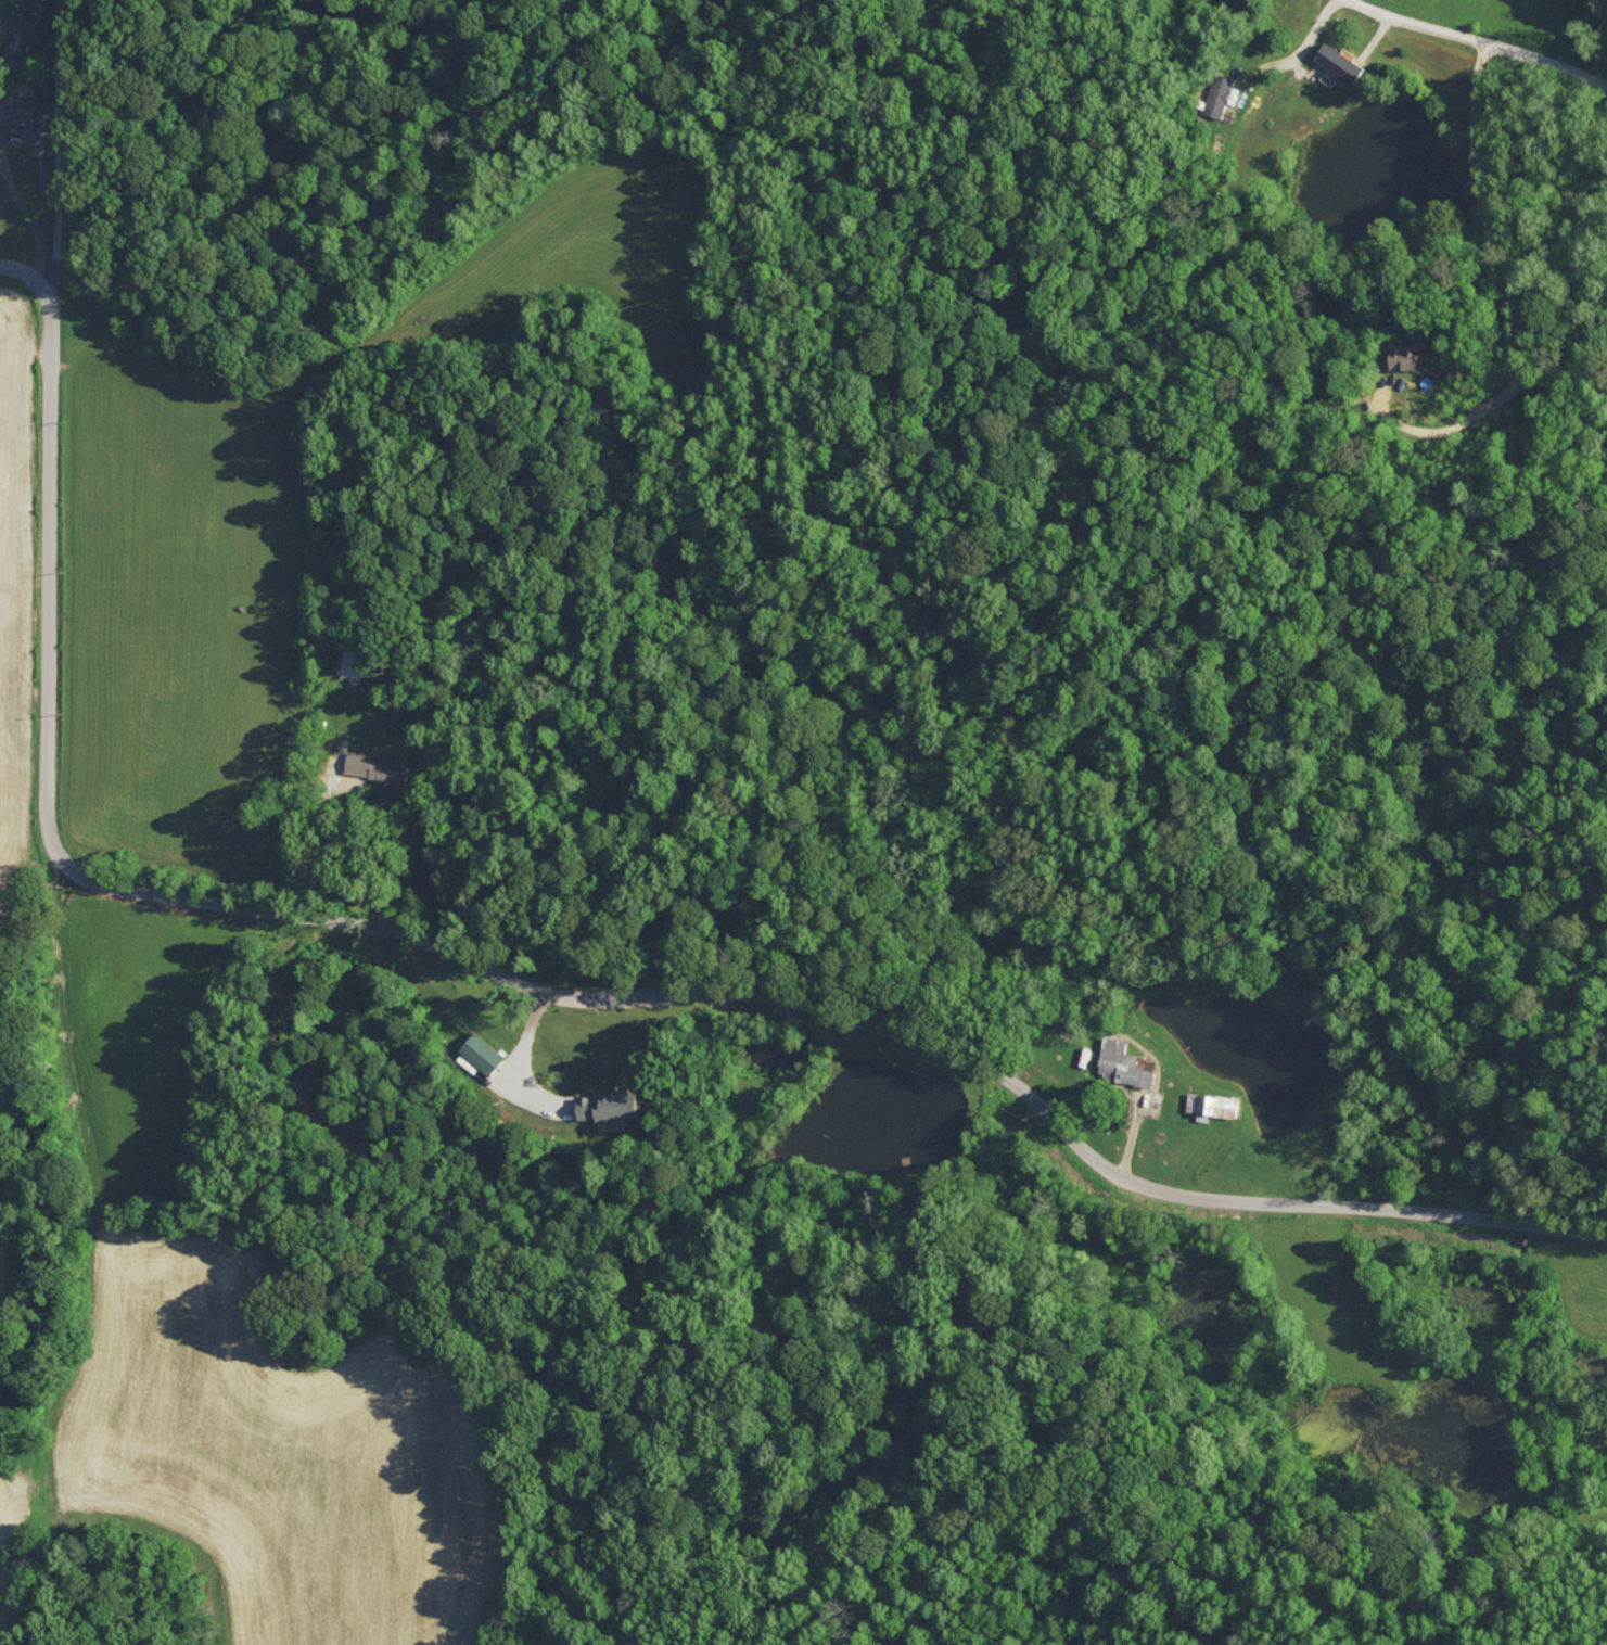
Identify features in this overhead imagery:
road: (1472, 43)
road: (1306, 44)
building: (1337, 62)
building: (1217, 95)
building: (14, 111)
road: (55, 141)
road: (23, 272)
road: (1509, 292)
building: (1405, 354)
building: (372, 766)
road: (428, 865)
road: (563, 987)
road: (523, 1041)
building: (480, 1051)
building: (1121, 1062)
building: (605, 1105)
building: (1331, 1288)

